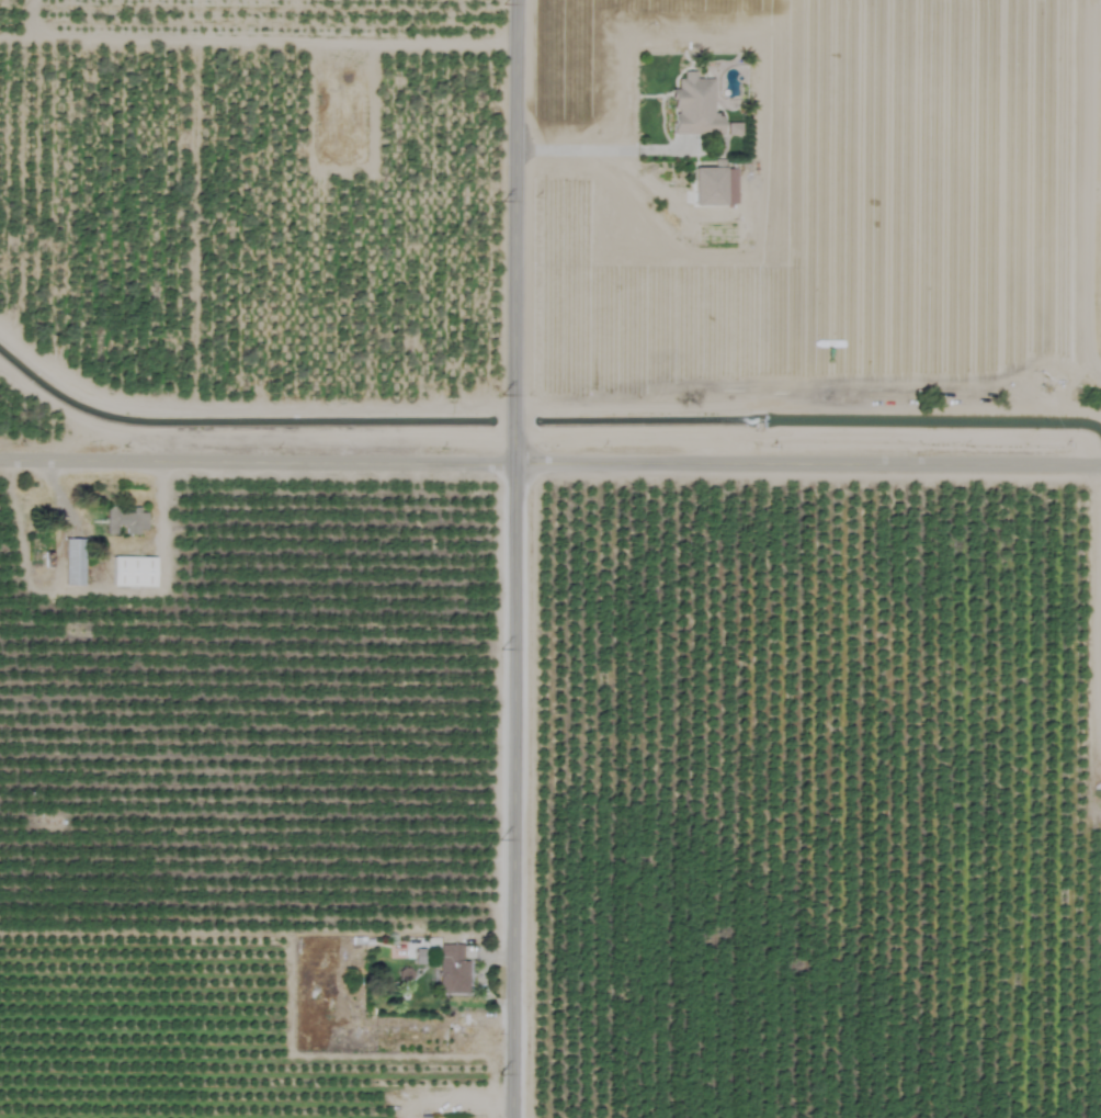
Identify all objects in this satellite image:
building: (694, 106)
road: (592, 149)
building: (713, 185)
road: (550, 460)
building: (124, 521)
road: (513, 558)
crop: (550, 558)
building: (72, 562)
building: (133, 572)
building: (451, 970)
building: (422, 1117)

